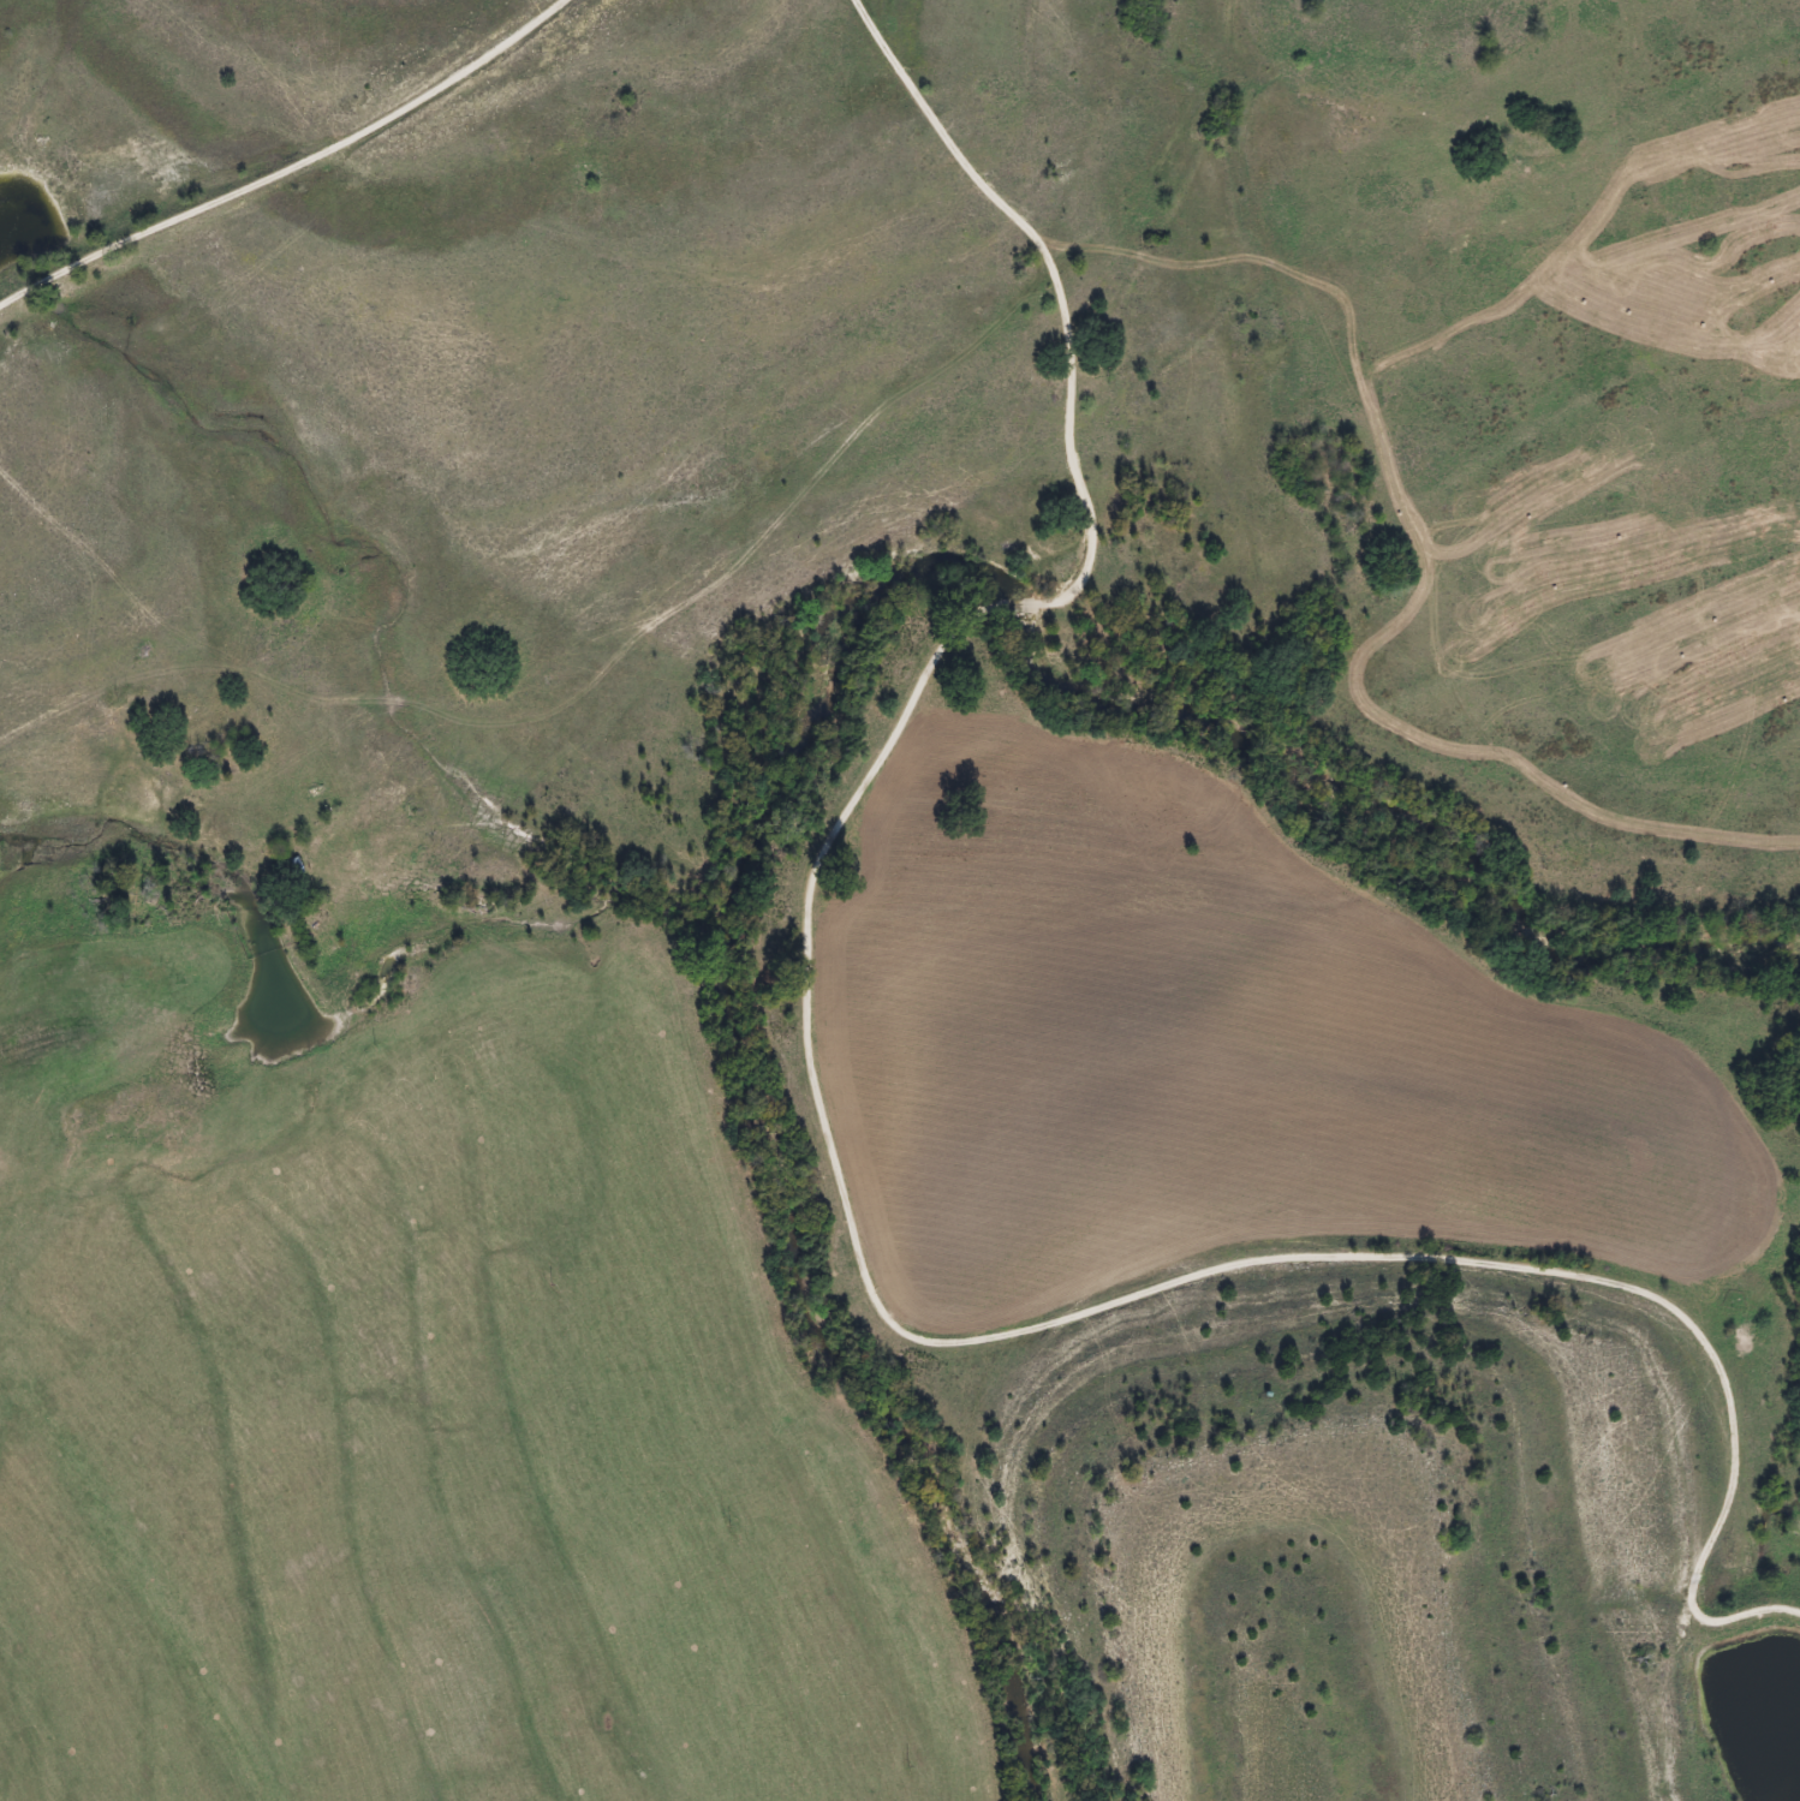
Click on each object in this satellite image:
railway: (294, 173)
road: (776, 519)
building: (286, 871)

